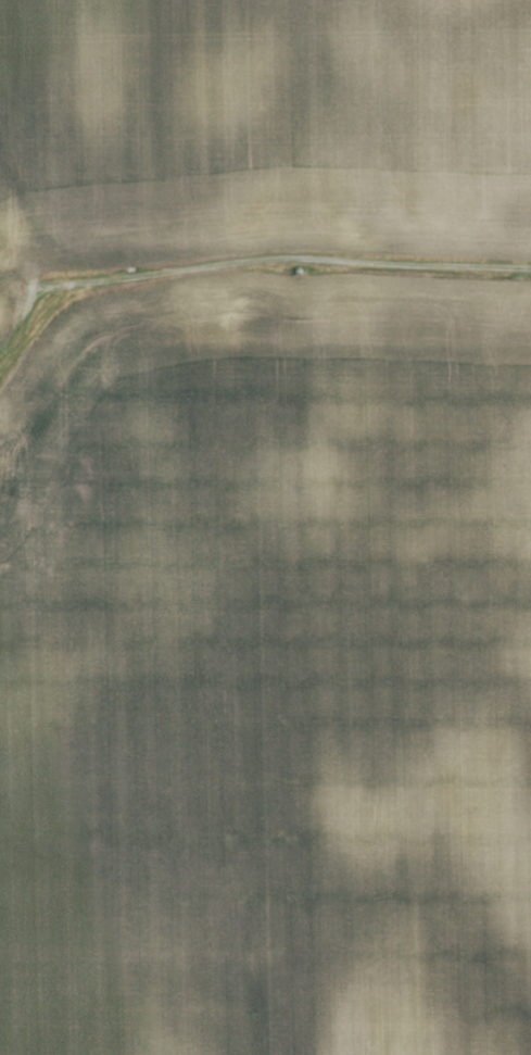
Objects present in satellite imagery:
road: (287, 255)
road: (23, 317)

